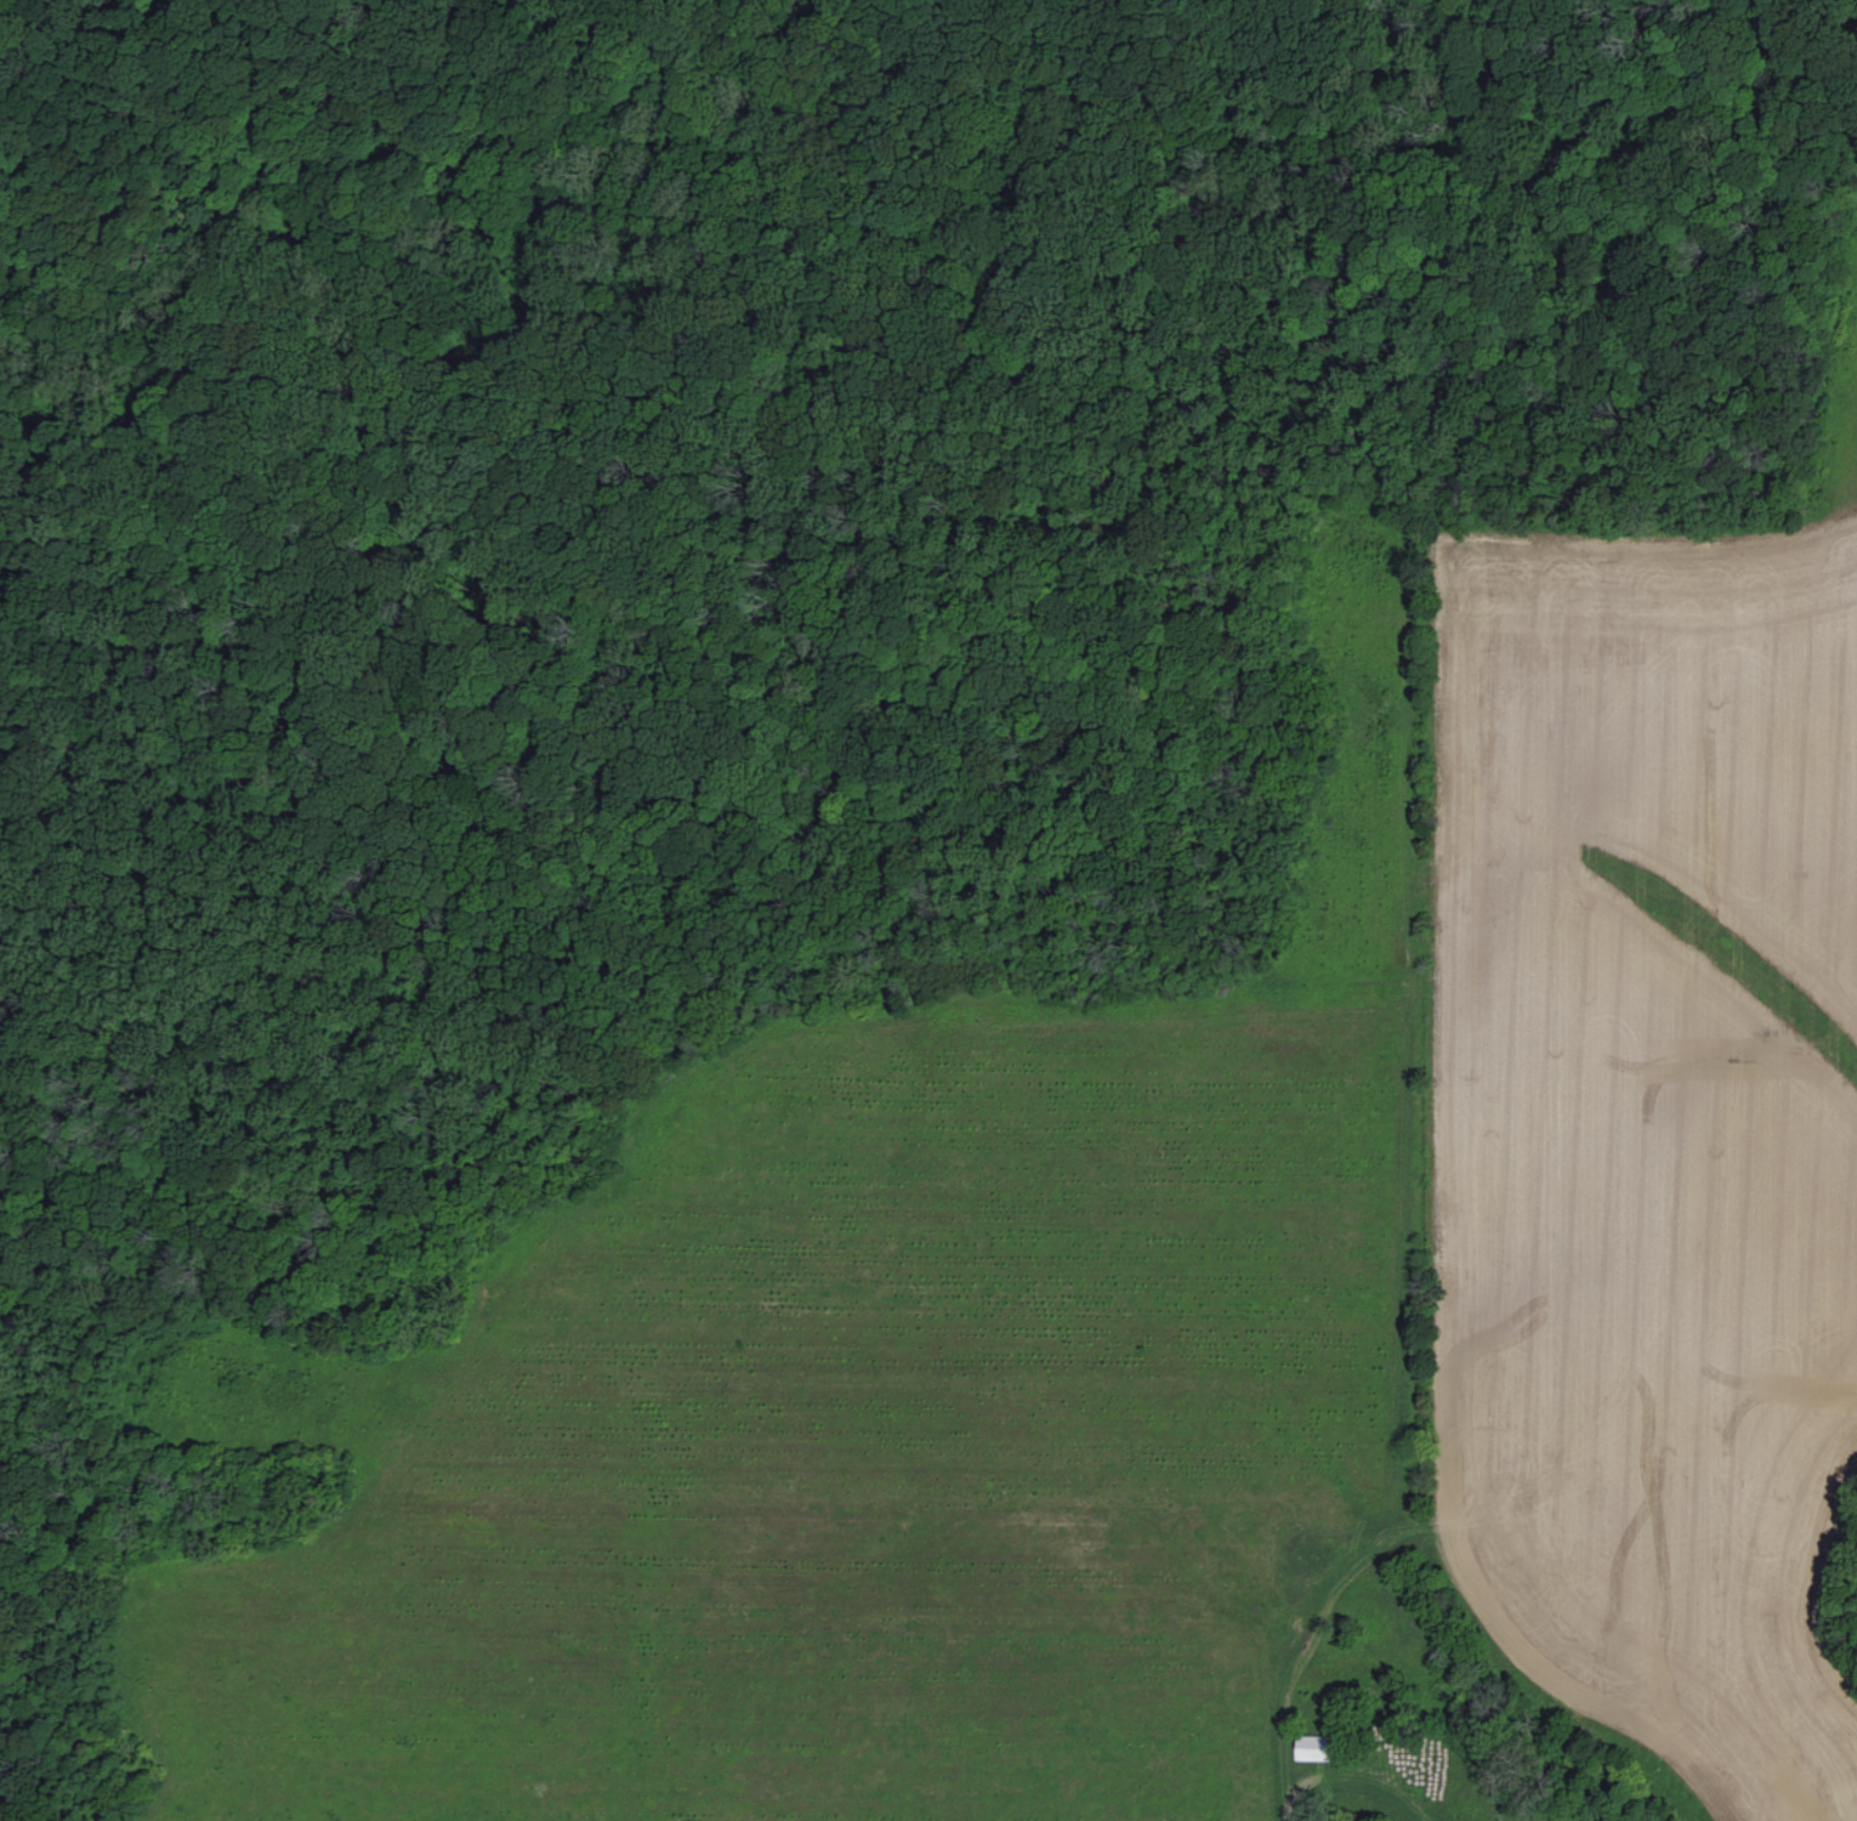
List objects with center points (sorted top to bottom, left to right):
building: (1319, 1748)
road: (1287, 1810)

